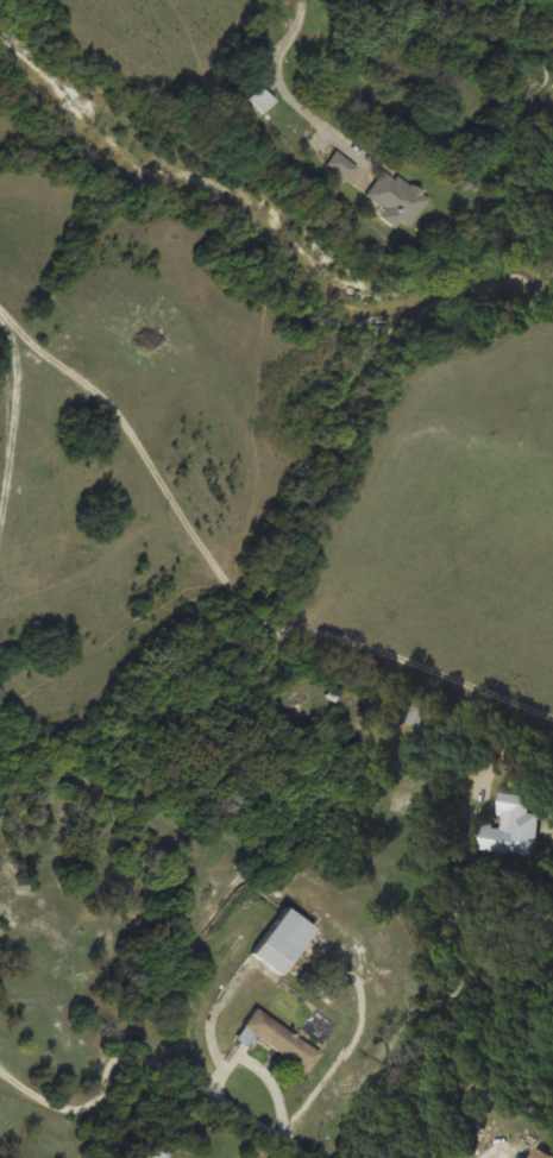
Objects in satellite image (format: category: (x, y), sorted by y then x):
building: (260, 97)
building: (340, 164)
building: (396, 197)
road: (516, 818)
building: (509, 826)
building: (281, 939)
road: (137, 1014)
building: (276, 1038)
road: (12, 1119)
building: (157, 1150)
building: (540, 1153)
building: (269, 1157)

